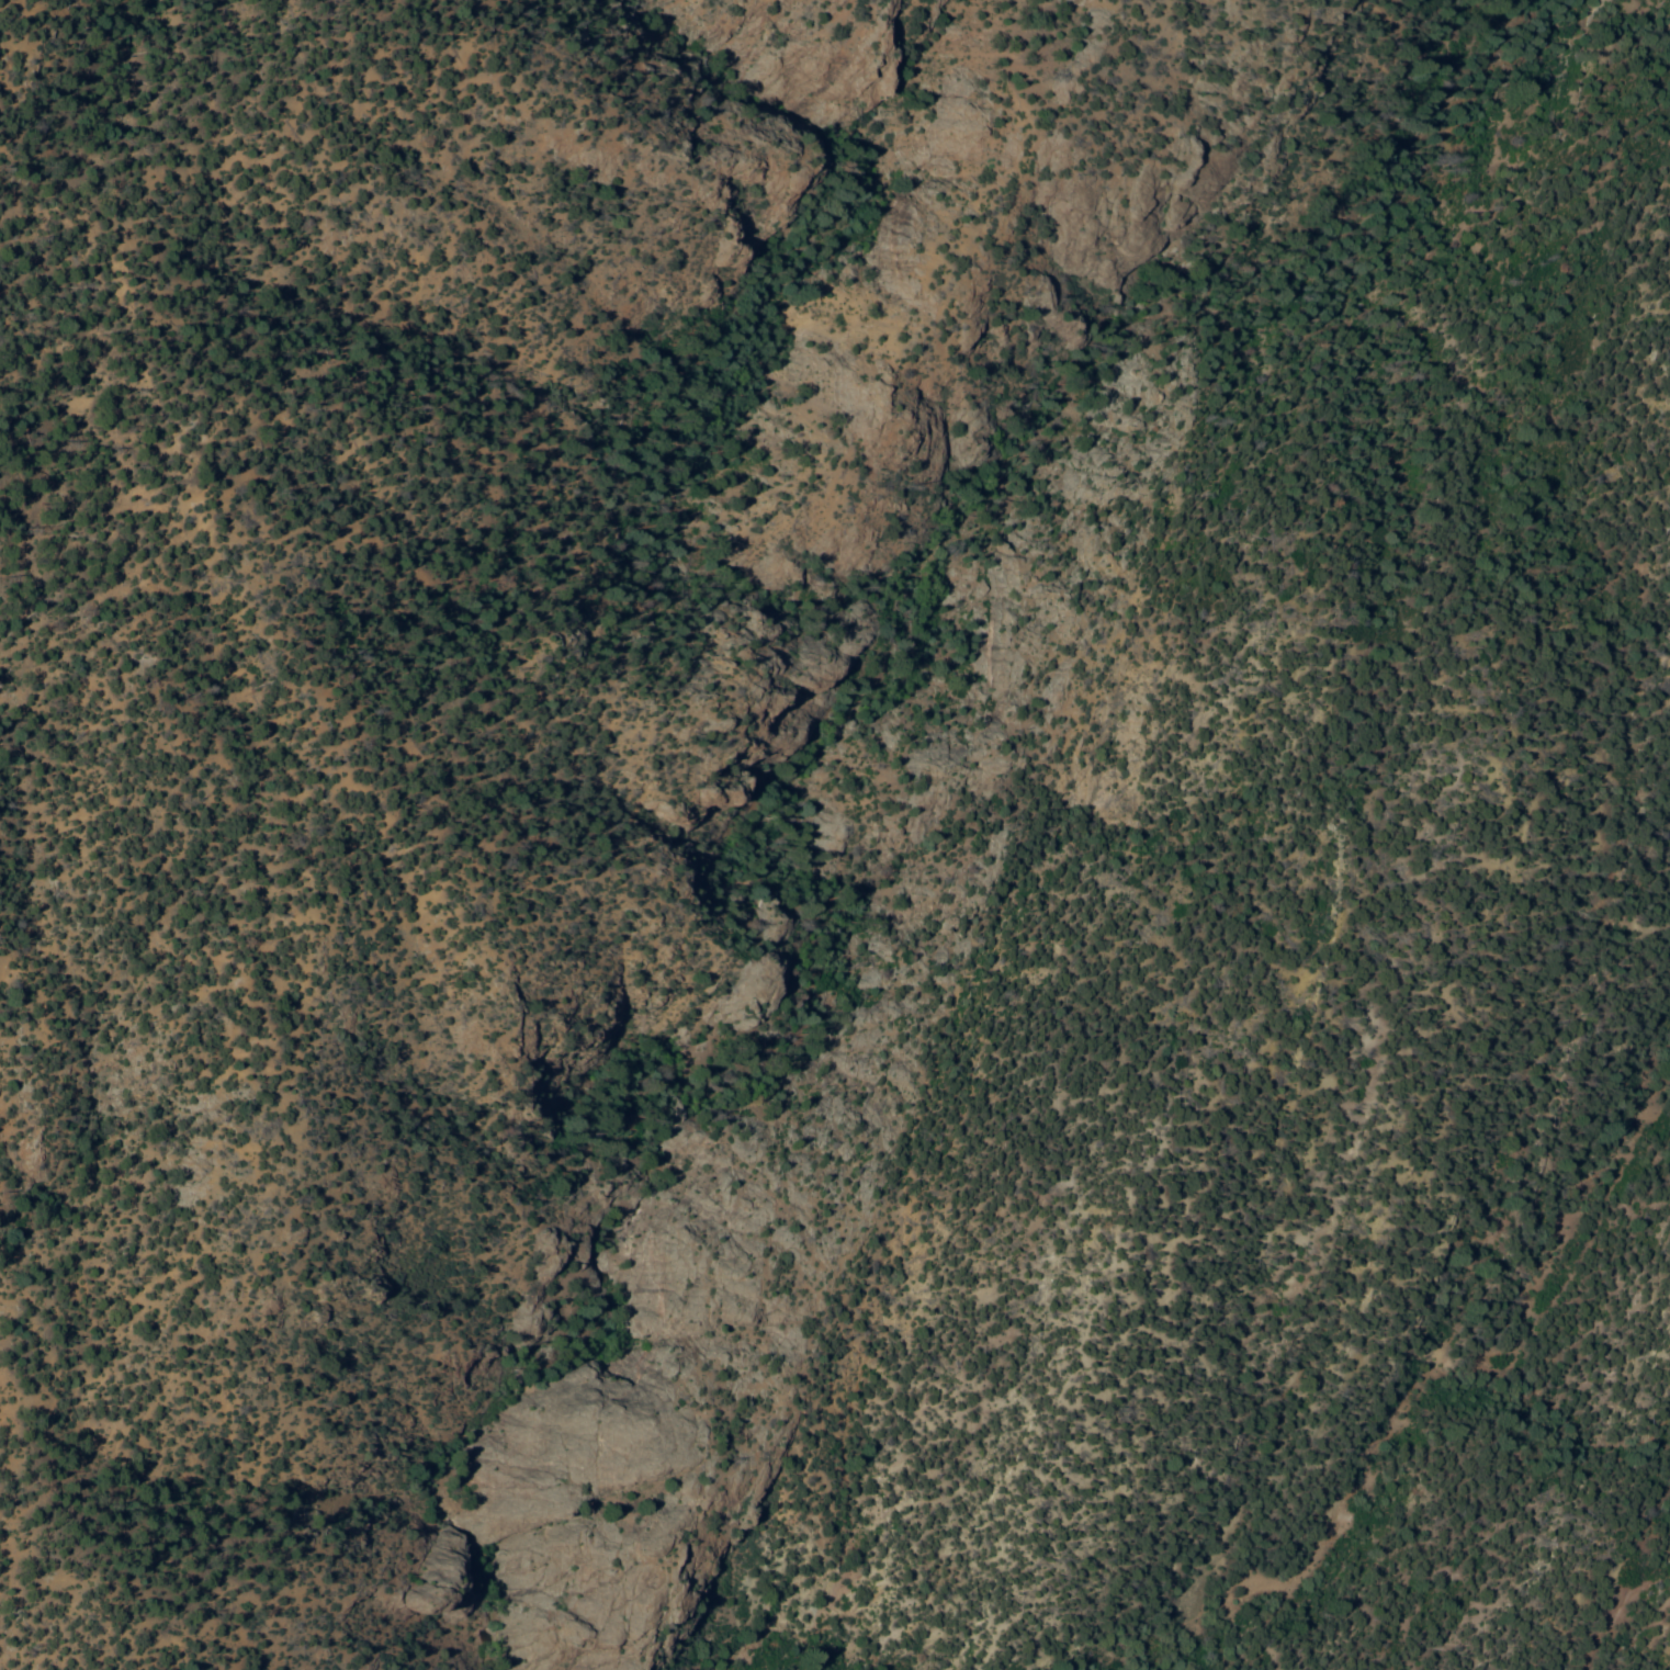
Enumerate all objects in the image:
road: (1458, 1378)
road: (1634, 1620)
road: (745, 1635)

